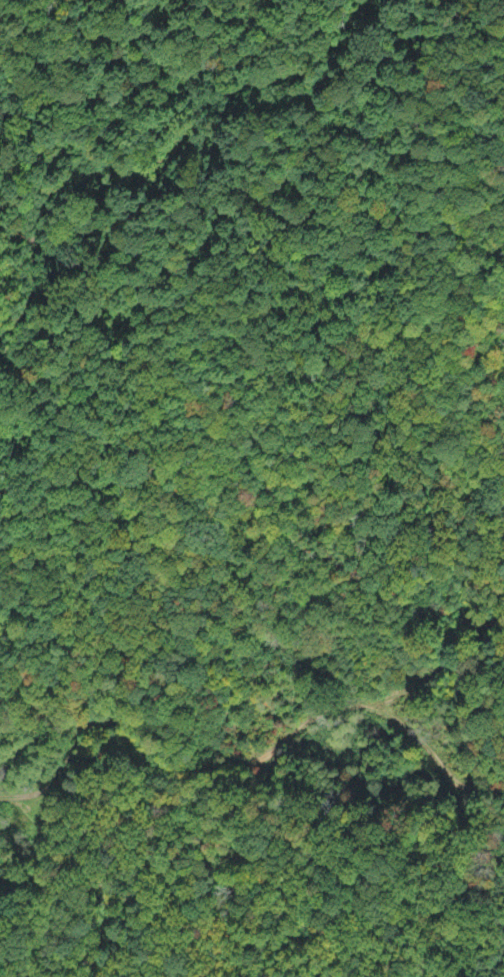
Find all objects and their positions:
road: (139, 90)
road: (422, 669)
road: (274, 736)

